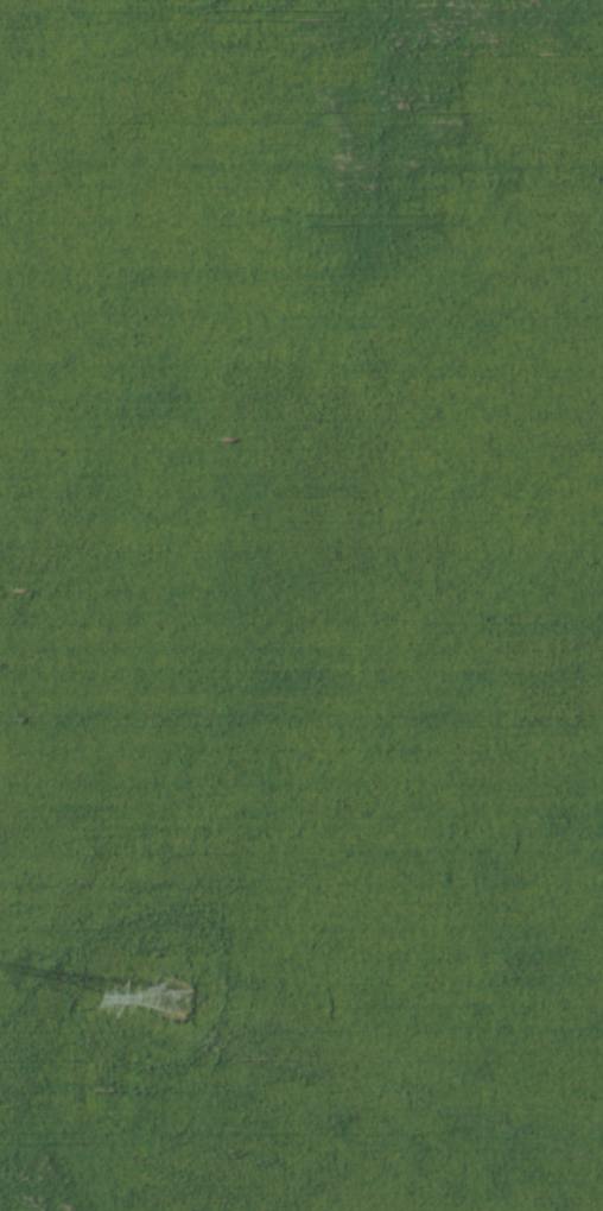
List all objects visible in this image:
power tower: (172, 996)

